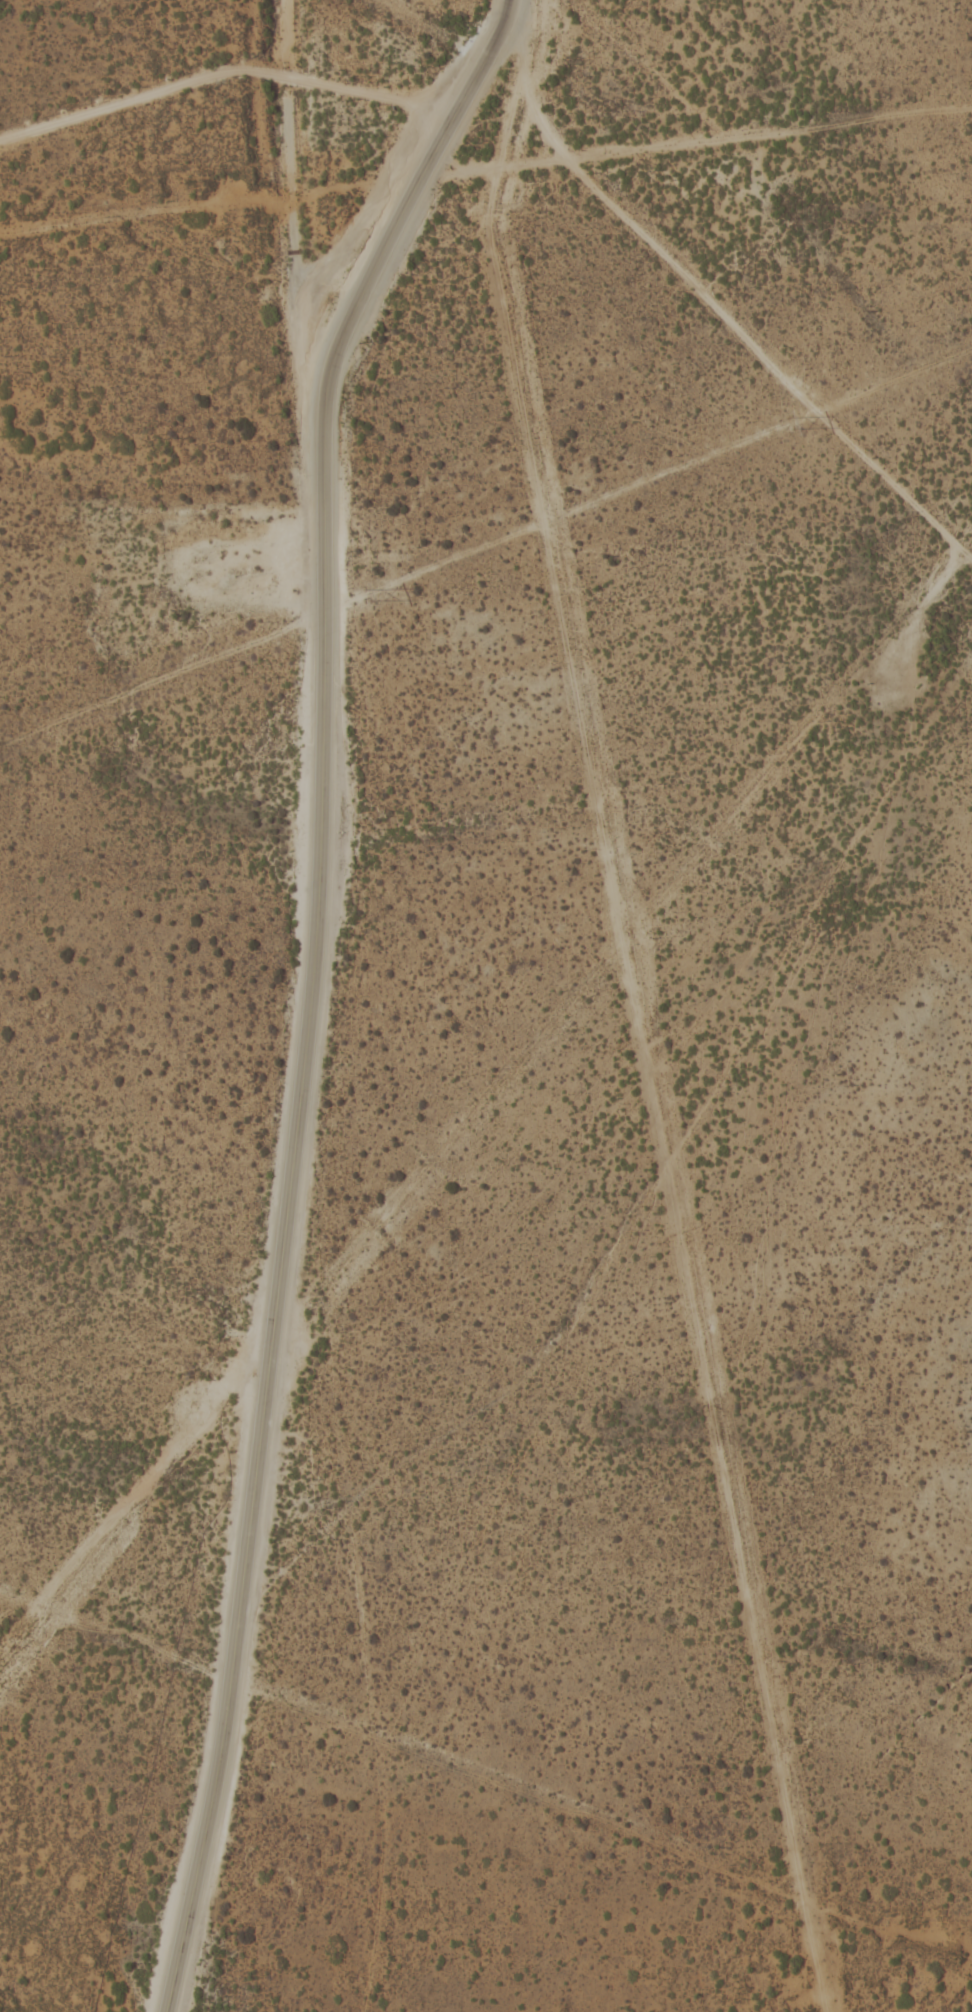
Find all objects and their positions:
road: (552, 157)
road: (399, 163)
road: (705, 298)
power tower: (790, 421)
power tower: (362, 594)
road: (309, 1010)
road: (510, 1665)

